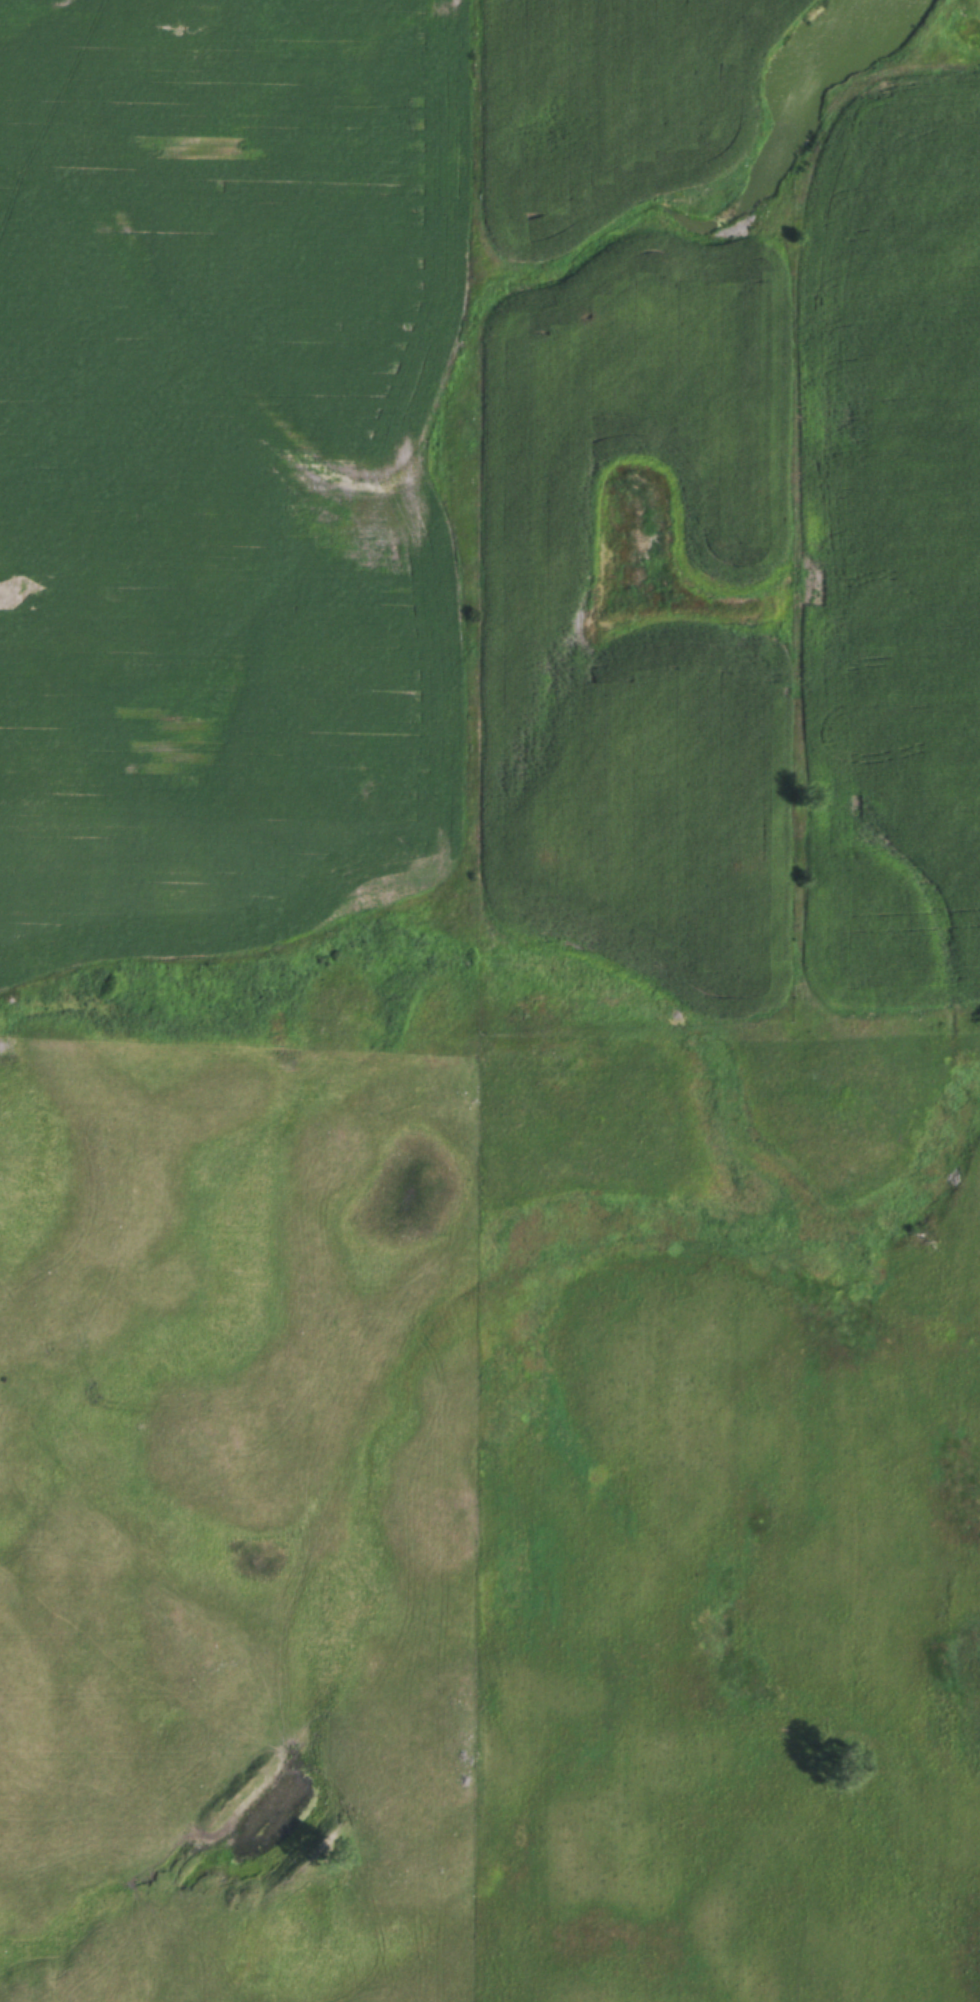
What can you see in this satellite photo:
river: (918, 2)
river: (805, 59)
river: (256, 1814)

